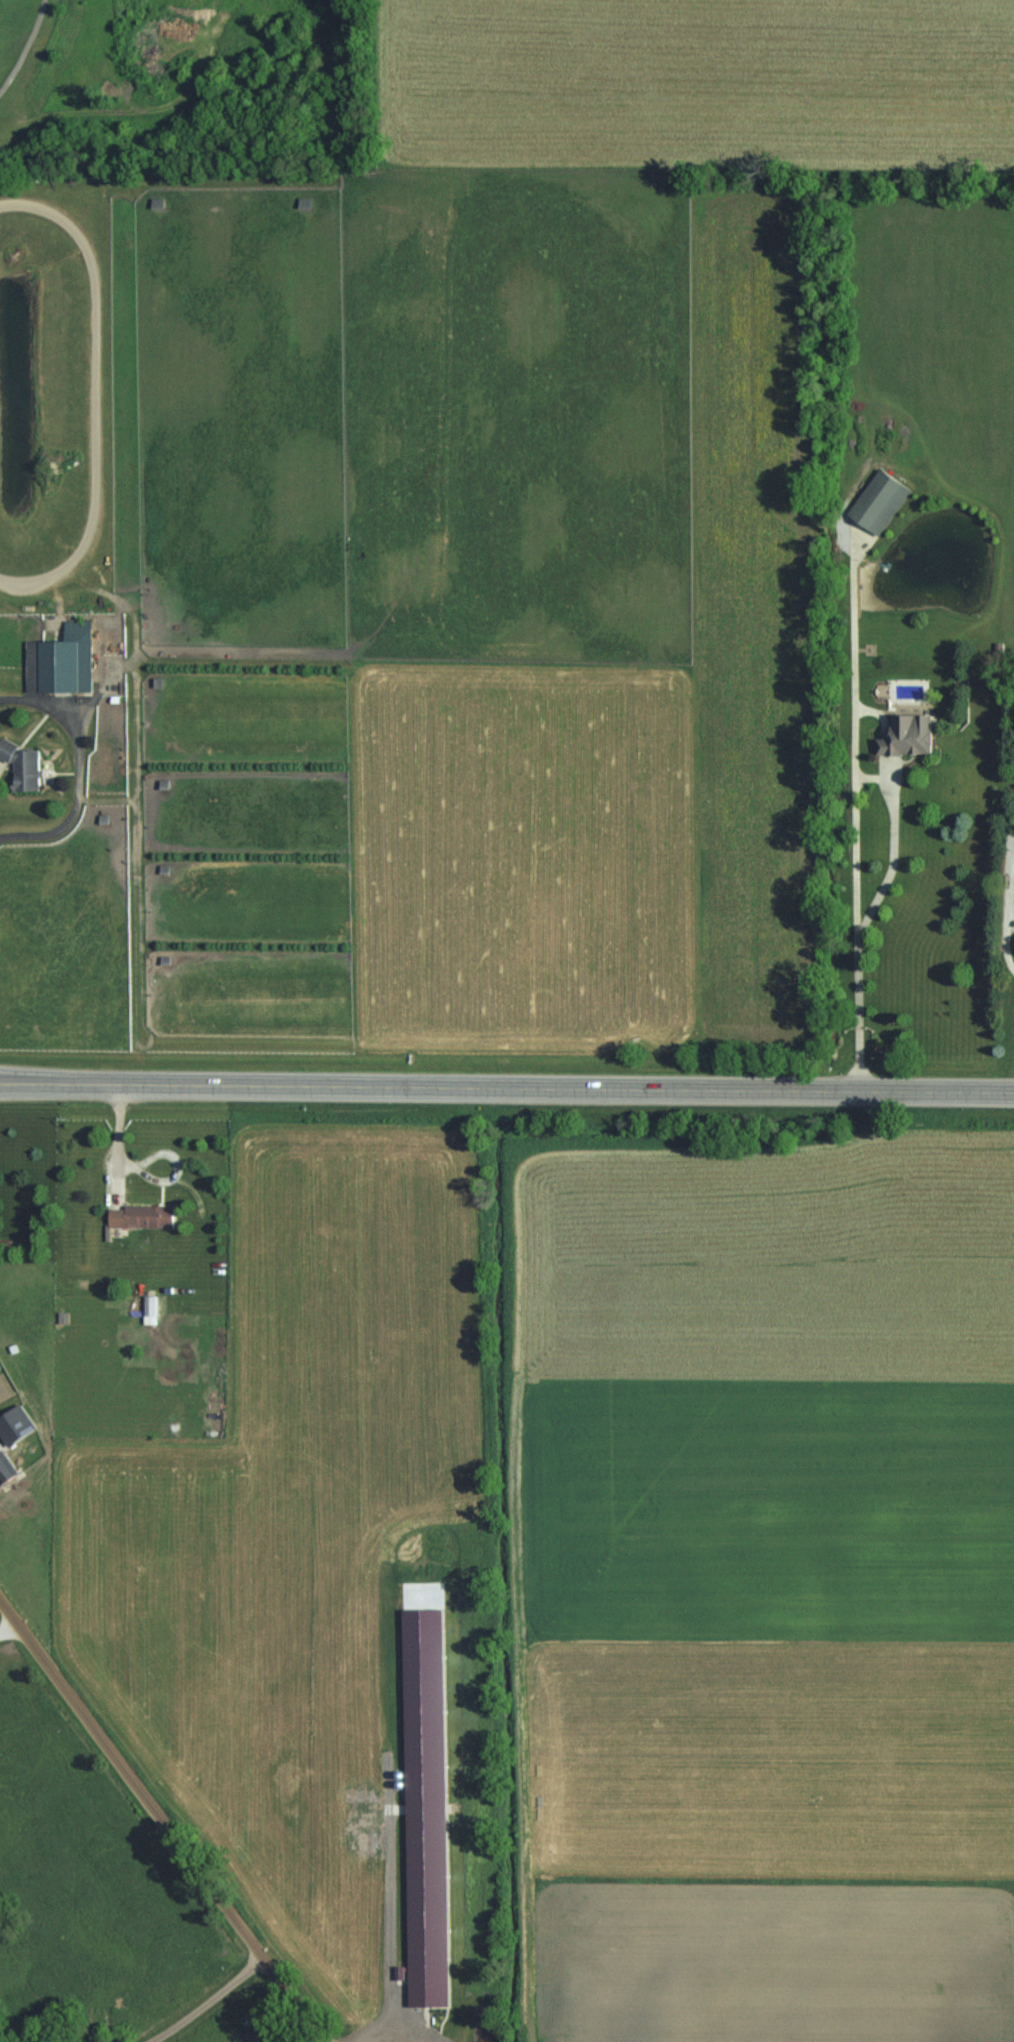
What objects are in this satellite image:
park: (44, 81)
building: (158, 202)
building: (881, 501)
building: (60, 662)
building: (909, 735)
building: (24, 765)
road: (77, 769)
road: (894, 849)
road: (853, 893)
road: (507, 1086)
road: (116, 1139)
building: (142, 1215)
building: (150, 1308)
building: (6, 1467)
road: (5, 1617)
road: (162, 1823)
road: (202, 1999)

